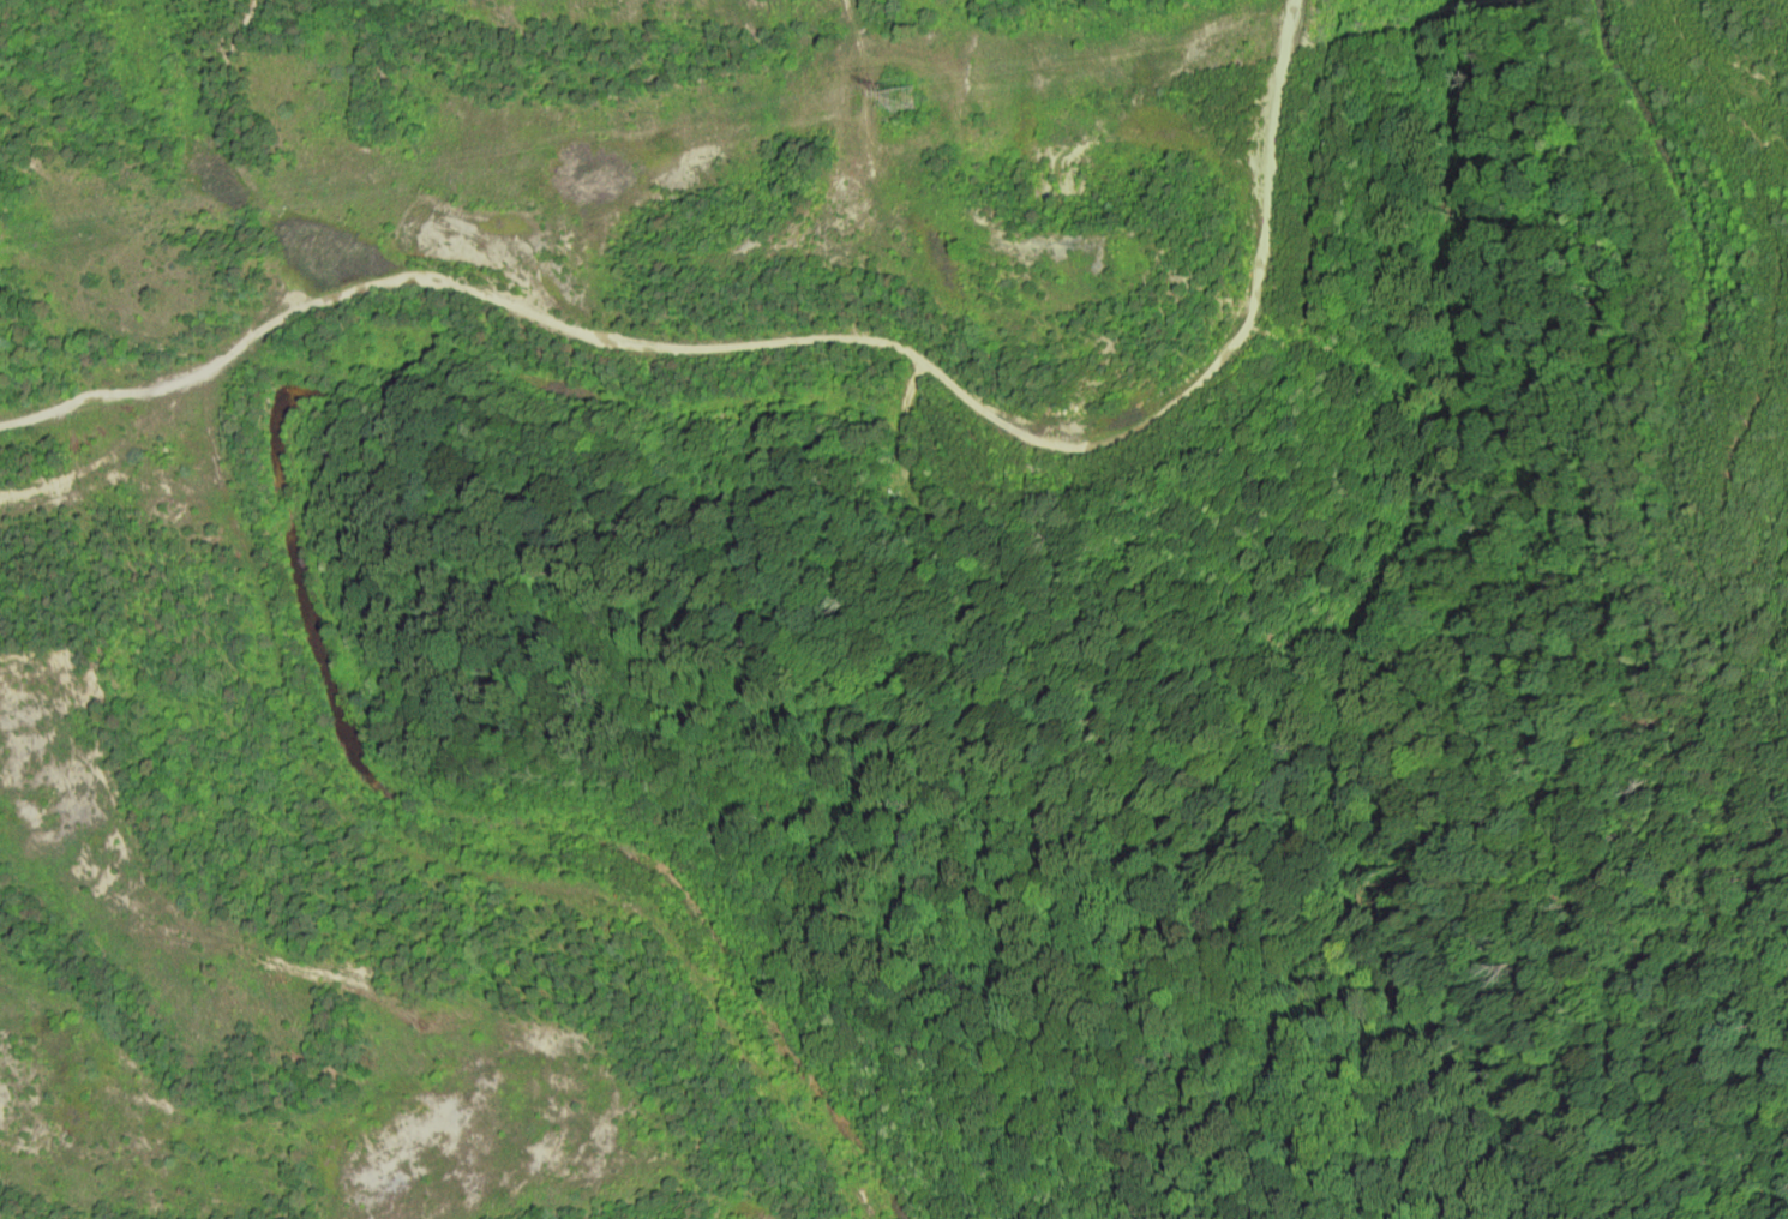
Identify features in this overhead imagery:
power tower: (900, 100)

